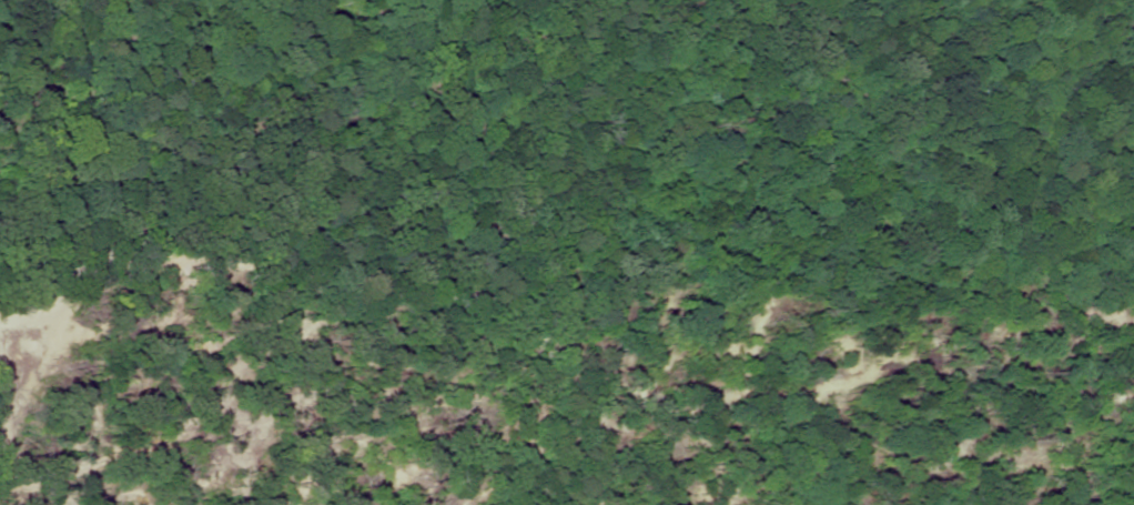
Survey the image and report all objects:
road: (373, 264)

